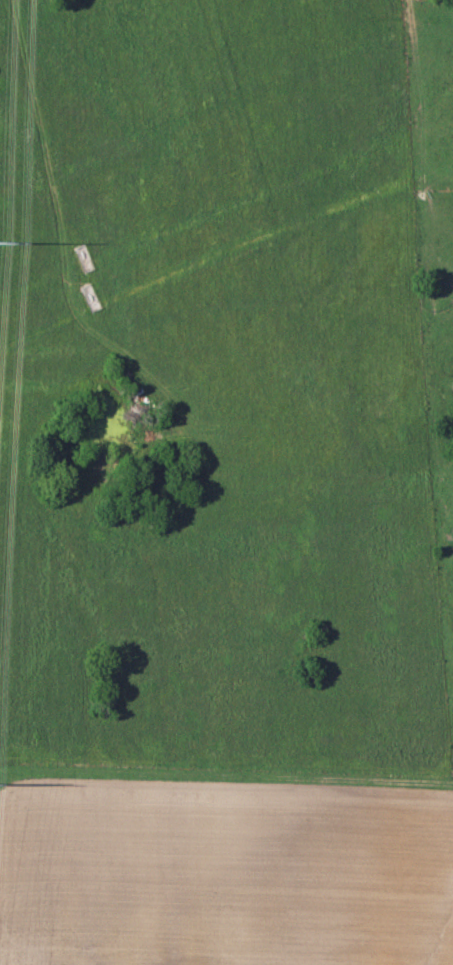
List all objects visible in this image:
power tower: (3, 242)

